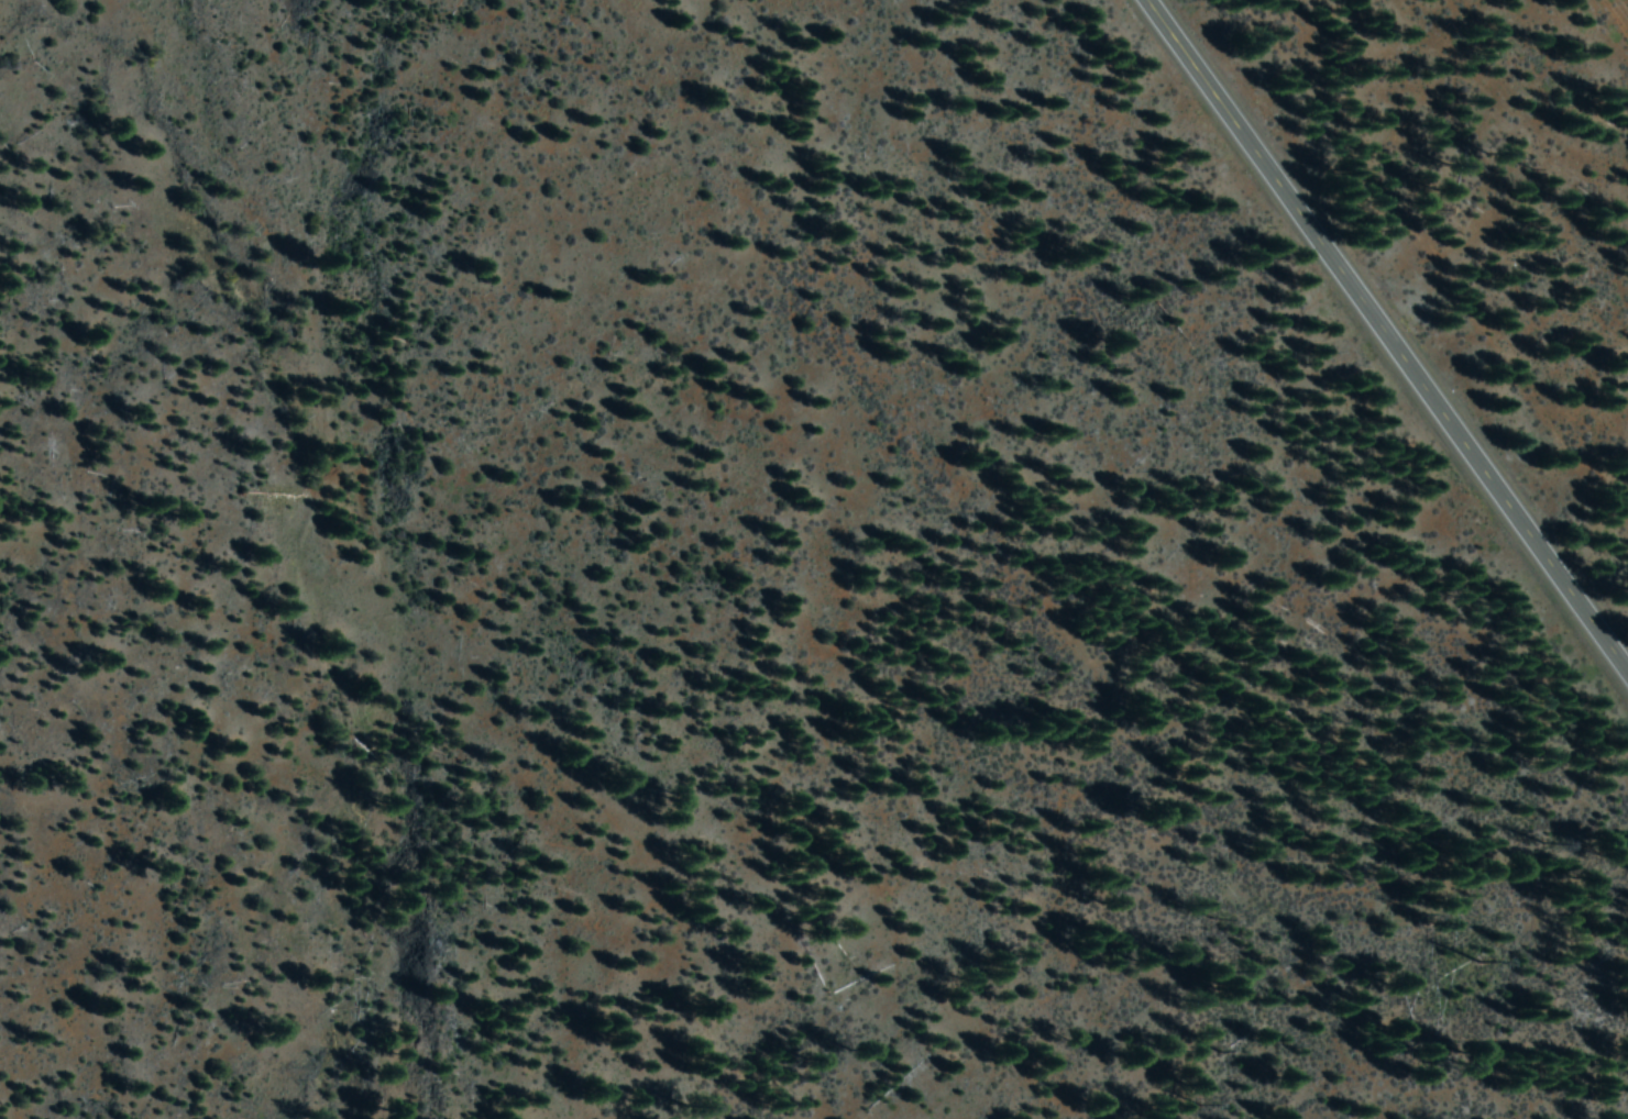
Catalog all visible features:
road: (1390, 330)

